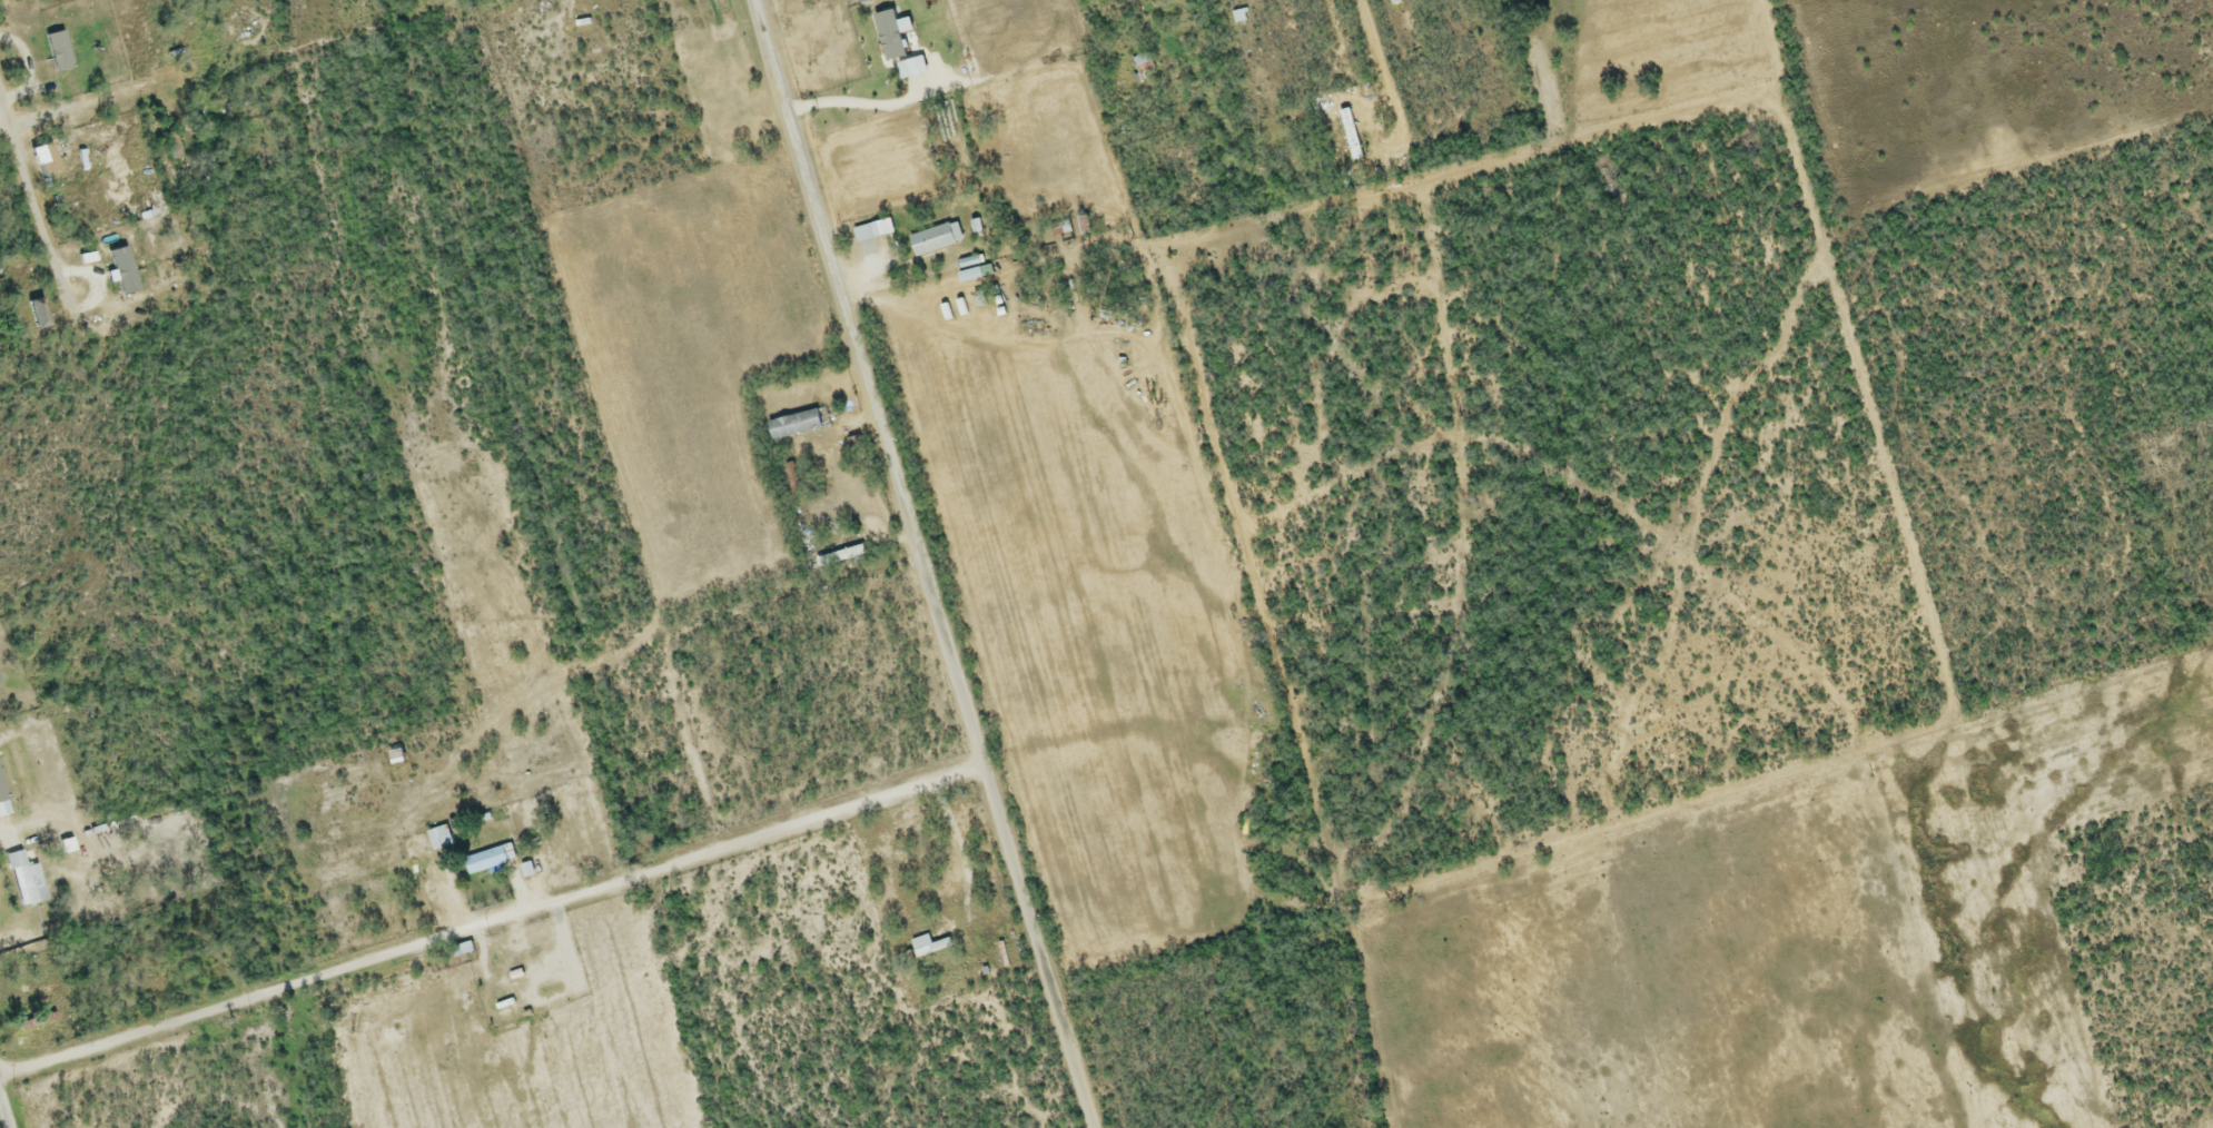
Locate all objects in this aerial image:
building: (584, 27)
building: (1140, 66)
road: (1386, 80)
road: (97, 106)
road: (4, 126)
road: (32, 195)
building: (861, 235)
building: (932, 241)
building: (967, 277)
building: (791, 426)
building: (836, 546)
road: (920, 564)
road: (38, 743)
building: (401, 758)
building: (493, 861)
building: (27, 879)
road: (490, 923)
road: (4, 1111)

